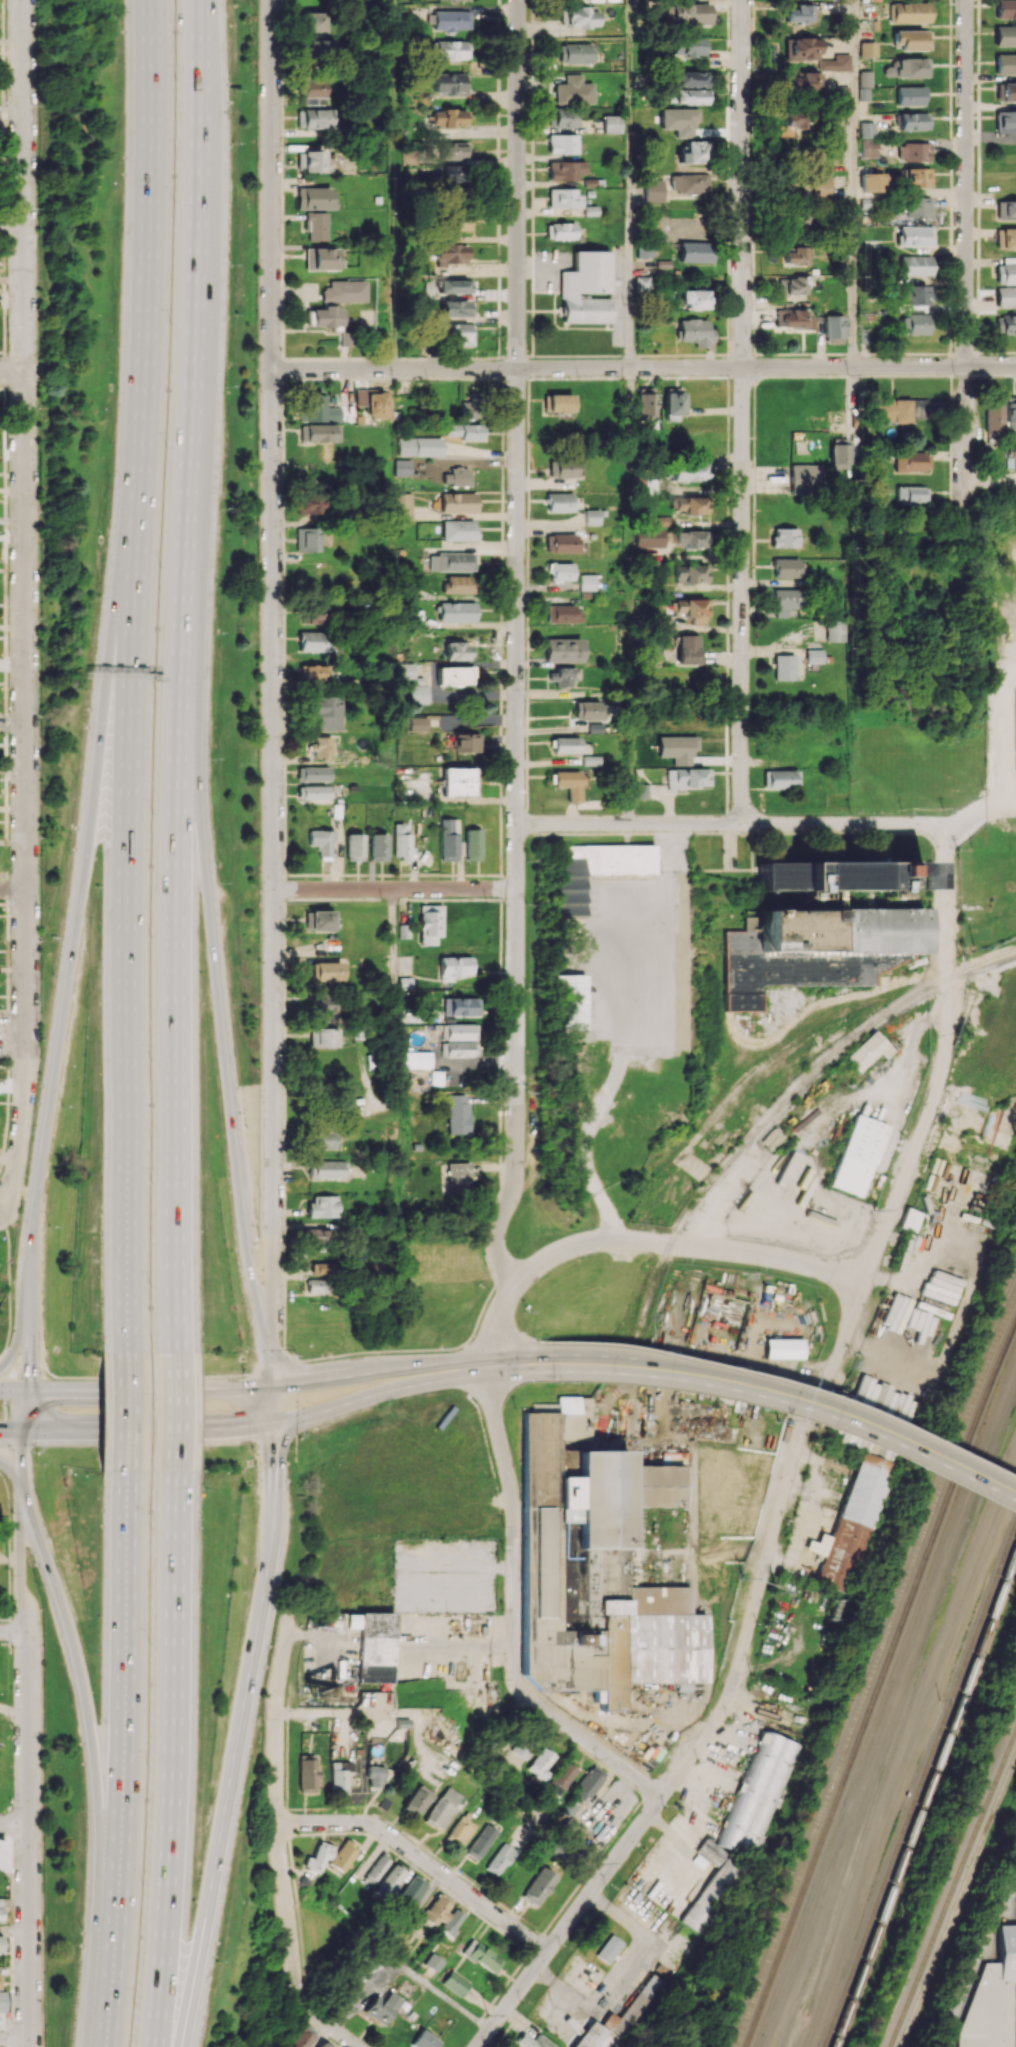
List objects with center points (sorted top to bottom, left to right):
street lamp: (36, 5)
building: (1005, 8)
building: (909, 12)
building: (793, 13)
building: (689, 14)
building: (578, 16)
building: (451, 20)
building: (312, 21)
building: (1005, 35)
building: (911, 40)
road: (200, 46)
building: (688, 48)
building: (799, 48)
building: (315, 49)
building: (452, 49)
building: (866, 49)
building: (575, 53)
building: (833, 63)
building: (1005, 64)
street lamp: (256, 67)
building: (908, 68)
street lamp: (174, 83)
building: (450, 83)
building: (804, 83)
building: (862, 85)
building: (687, 88)
building: (573, 90)
building: (1008, 92)
building: (842, 95)
building: (909, 96)
street lamp: (37, 105)
building: (561, 117)
building: (450, 118)
building: (316, 119)
building: (912, 121)
building: (1005, 121)
building: (612, 123)
building: (791, 124)
building: (865, 129)
street lamp: (233, 142)
building: (562, 144)
building: (869, 148)
building: (454, 150)
building: (914, 151)
building: (694, 152)
building: (409, 157)
building: (309, 161)
building: (327, 164)
street lamp: (257, 166)
building: (565, 170)
building: (452, 174)
building: (918, 177)
building: (871, 182)
road: (630, 183)
building: (691, 183)
road: (852, 183)
road: (394, 184)
building: (821, 186)
building: (653, 190)
building: (314, 198)
building: (563, 198)
street lamp: (173, 201)
building: (917, 207)
building: (1006, 210)
building: (797, 218)
building: (457, 223)
building: (315, 226)
building: (560, 231)
building: (915, 236)
building: (1006, 238)
building: (695, 252)
building: (451, 254)
building: (798, 255)
road: (964, 256)
building: (321, 258)
street lamp: (230, 265)
building: (914, 265)
street lamp: (257, 267)
building: (1006, 271)
building: (642, 283)
building: (793, 285)
building: (454, 286)
building: (585, 288)
building: (343, 291)
building: (914, 295)
building: (1006, 297)
building: (695, 299)
building: (454, 304)
street lamp: (37, 306)
road: (194, 316)
building: (324, 317)
building: (791, 318)
building: (916, 324)
building: (1006, 324)
street lamp: (169, 325)
building: (833, 328)
building: (696, 332)
building: (456, 333)
building: (345, 337)
road: (643, 367)
street lamp: (256, 369)
road: (10, 371)
street lamp: (394, 379)
street lamp: (225, 385)
building: (371, 402)
building: (673, 402)
building: (559, 403)
building: (645, 404)
building: (317, 408)
street lamp: (37, 409)
building: (1011, 409)
building: (898, 410)
road: (742, 411)
building: (993, 415)
building: (462, 431)
building: (320, 432)
road: (21, 444)
road: (272, 444)
street lamp: (165, 445)
building: (419, 446)
building: (839, 453)
building: (911, 461)
building: (402, 467)
building: (561, 469)
building: (687, 471)
building: (457, 476)
building: (806, 476)
building: (910, 494)
building: (458, 502)
building: (558, 502)
building: (308, 504)
building: (402, 505)
building: (692, 505)
road: (853, 505)
street lamp: (222, 508)
street lamp: (39, 512)
building: (591, 516)
building: (665, 520)
building: (458, 530)
building: (649, 537)
building: (785, 537)
building: (306, 539)
building: (561, 543)
building: (451, 561)
street lamp: (159, 566)
building: (786, 567)
building: (560, 571)
building: (691, 573)
street lamp: (257, 574)
building: (587, 581)
building: (459, 584)
road: (122, 587)
road: (629, 595)
street lamp: (98, 596)
building: (786, 602)
building: (692, 609)
building: (457, 611)
building: (312, 614)
building: (563, 614)
street lamp: (39, 617)
building: (835, 630)
street lamp: (215, 633)
building: (311, 641)
road: (517, 646)
building: (687, 649)
building: (456, 650)
building: (563, 650)
building: (814, 656)
building: (784, 667)
building: (405, 670)
building: (311, 672)
street lamp: (258, 674)
building: (454, 675)
road: (131, 676)
building: (561, 676)
street lamp: (154, 690)
building: (419, 694)
building: (588, 710)
building: (324, 713)
street lamp: (85, 721)
building: (418, 724)
building: (466, 742)
building: (565, 745)
building: (319, 746)
street lamp: (212, 759)
building: (589, 760)
building: (314, 773)
building: (688, 778)
street lamp: (259, 779)
building: (779, 779)
building: (458, 782)
building: (567, 784)
building: (641, 791)
building: (313, 792)
road: (977, 808)
street lamp: (151, 815)
road: (730, 823)
street lamp: (40, 836)
building: (449, 839)
building: (321, 841)
building: (401, 842)
building: (473, 844)
building: (355, 847)
building: (378, 847)
street lamp: (69, 853)
building: (595, 869)
building: (839, 874)
street lamp: (220, 881)
road: (11, 888)
road: (394, 888)
street lamp: (259, 890)
building: (317, 920)
building: (430, 924)
street lamp: (149, 936)
road: (213, 939)
street lamp: (40, 940)
road: (174, 945)
building: (816, 948)
parking lot: (627, 961)
building: (455, 967)
building: (326, 971)
street lamp: (53, 974)
road: (393, 992)
road: (64, 997)
street lamp: (234, 1002)
building: (323, 1002)
building: (571, 1003)
street lamp: (258, 1006)
building: (460, 1006)
building: (458, 1031)
road: (627, 1036)
building: (322, 1037)
street lamp: (39, 1041)
road: (24, 1047)
building: (458, 1049)
building: (867, 1051)
street lamp: (149, 1058)
building: (417, 1059)
street lamp: (260, 1095)
street lamp: (59, 1104)
railway: (782, 1105)
road: (273, 1112)
building: (459, 1114)
street lamp: (247, 1127)
building: (323, 1140)
road: (919, 1141)
building: (857, 1155)
building: (326, 1169)
building: (962, 1172)
building: (458, 1176)
street lamp: (149, 1182)
street lamp: (260, 1195)
building: (322, 1206)
building: (910, 1219)
street lamp: (48, 1226)
building: (320, 1235)
road: (689, 1245)
street lamp: (232, 1251)
building: (325, 1268)
street lamp: (149, 1285)
building: (314, 1285)
road: (8, 1286)
street lamp: (523, 1310)
road: (510, 1333)
street lamp: (534, 1335)
road: (19, 1338)
street lamp: (44, 1343)
street lamp: (247, 1344)
street lamp: (439, 1345)
road: (28, 1346)
building: (782, 1348)
road: (366, 1350)
street lamp: (294, 1353)
road: (267, 1361)
road: (522, 1362)
street lamp: (243, 1370)
road: (382, 1371)
street lamp: (46, 1376)
street lamp: (557, 1383)
road: (792, 1386)
road: (231, 1387)
traffic signals: (270, 1387)
road: (109, 1388)
road: (13, 1389)
traffic signals: (26, 1389)
road: (383, 1391)
road: (791, 1399)
road: (271, 1404)
building: (568, 1404)
street lamp: (149, 1406)
street lamp: (378, 1406)
road: (23, 1408)
road: (129, 1411)
road: (175, 1411)
traffic signals: (273, 1422)
road: (10, 1428)
traffic signals: (21, 1428)
road: (44, 1428)
road: (170, 1428)
street lamp: (299, 1438)
street lamp: (250, 1447)
street lamp: (36, 1452)
road: (21, 1454)
street lamp: (36, 1464)
road: (12, 1469)
road: (508, 1478)
street lamp: (250, 1484)
building: (651, 1486)
building: (853, 1524)
street lamp: (149, 1528)
road: (21, 1555)
road: (458, 1565)
street lamp: (39, 1584)
street lamp: (245, 1589)
road: (14, 1630)
street lamp: (149, 1641)
road: (465, 1645)
street lamp: (11, 1647)
building: (372, 1650)
railway: (867, 1656)
railway: (874, 1673)
railway: (880, 1682)
street lamp: (70, 1703)
street lamp: (225, 1708)
street lamp: (265, 1718)
road: (239, 1720)
road: (92, 1741)
road: (589, 1741)
building: (520, 1749)
road: (169, 1758)
road: (123, 1759)
building: (539, 1763)
road: (685, 1763)
street lamp: (146, 1764)
building: (306, 1773)
building: (339, 1775)
building: (374, 1776)
building: (560, 1778)
building: (587, 1783)
railway: (921, 1789)
building: (754, 1792)
building: (416, 1800)
railway: (927, 1803)
street lamp: (262, 1806)
road: (277, 1808)
building: (441, 1808)
street lamp: (81, 1810)
building: (569, 1816)
street lamp: (381, 1817)
road: (14, 1823)
street lamp: (239, 1830)
building: (460, 1831)
road: (29, 1838)
building: (480, 1841)
building: (2, 1855)
building: (342, 1856)
building: (317, 1857)
road: (423, 1858)
building: (499, 1859)
building: (376, 1869)
building: (1015, 1880)
building: (388, 1882)
street lamp: (140, 1884)
building: (538, 1885)
building: (712, 1886)
railway: (953, 1890)
building: (410, 1891)
railway: (958, 1902)
building: (435, 1910)
building: (0, 1915)
building: (450, 1923)
street lamp: (79, 1928)
road: (14, 1933)
building: (0, 1944)
building: (608, 1948)
building: (482, 1956)
street lamp: (215, 1960)
building: (433, 1961)
railway: (740, 1963)
road: (407, 1968)
building: (455, 1983)
street lamp: (287, 1996)
building: (990, 1996)
building: (1, 2002)
street lamp: (132, 2003)
building: (382, 2007)
building: (619, 2019)
railway: (712, 2020)
road: (330, 2024)
road: (179, 2032)
road: (15, 2037)
building: (301, 2038)
building: (425, 2040)
building: (532, 2041)
building: (324, 2045)

